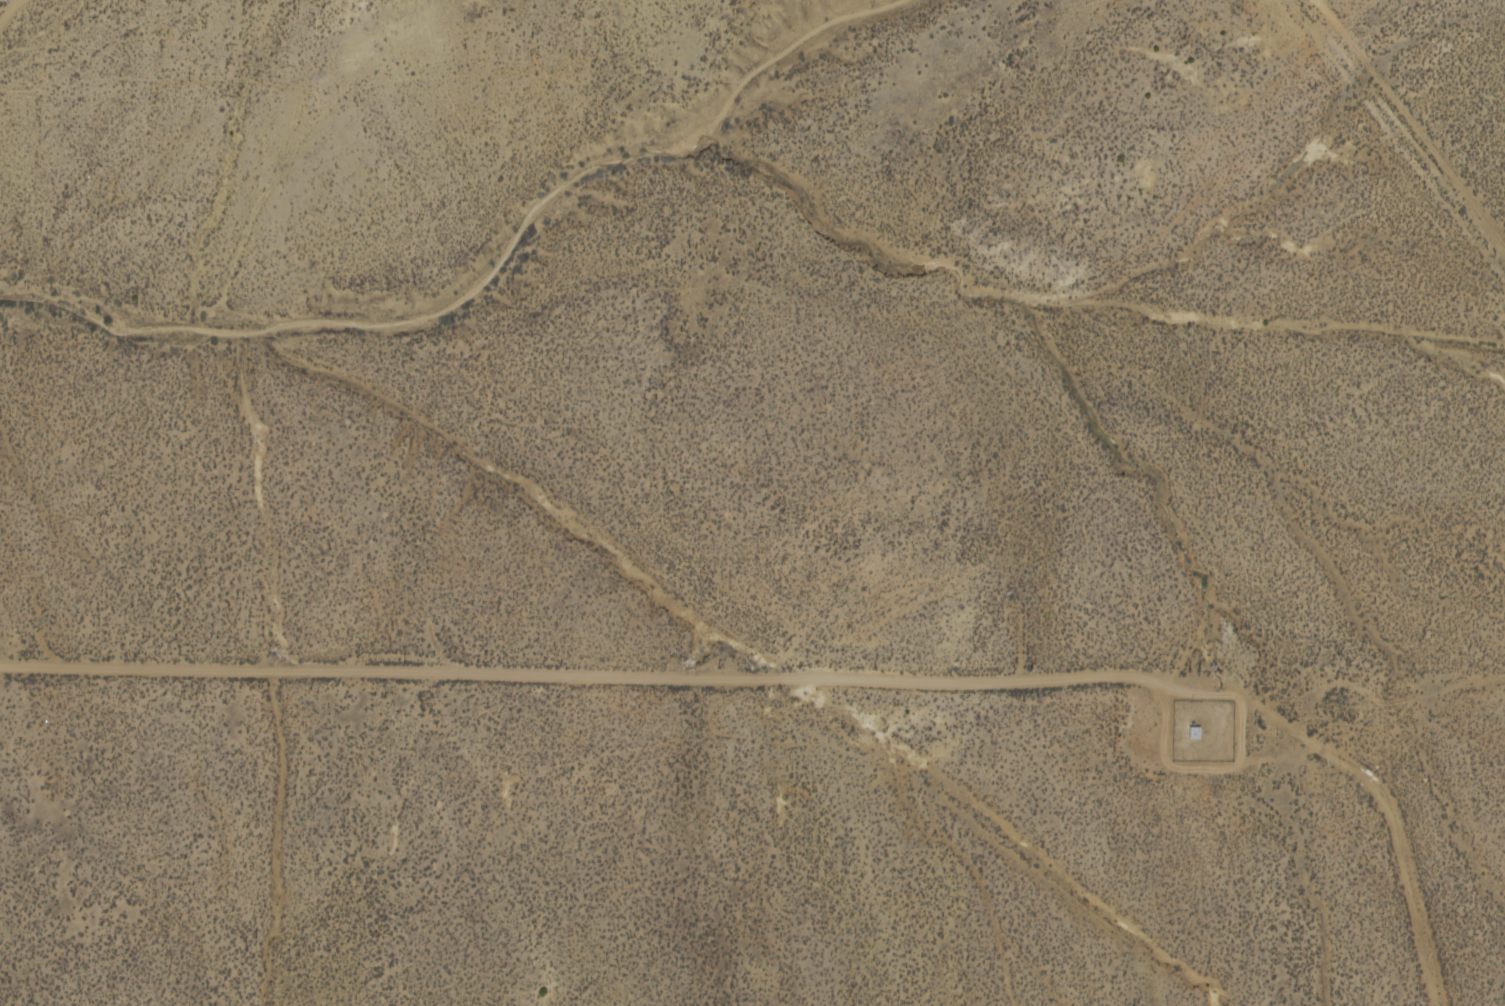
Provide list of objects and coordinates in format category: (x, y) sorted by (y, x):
road: (19, 15)
road: (1410, 120)
road: (827, 673)

